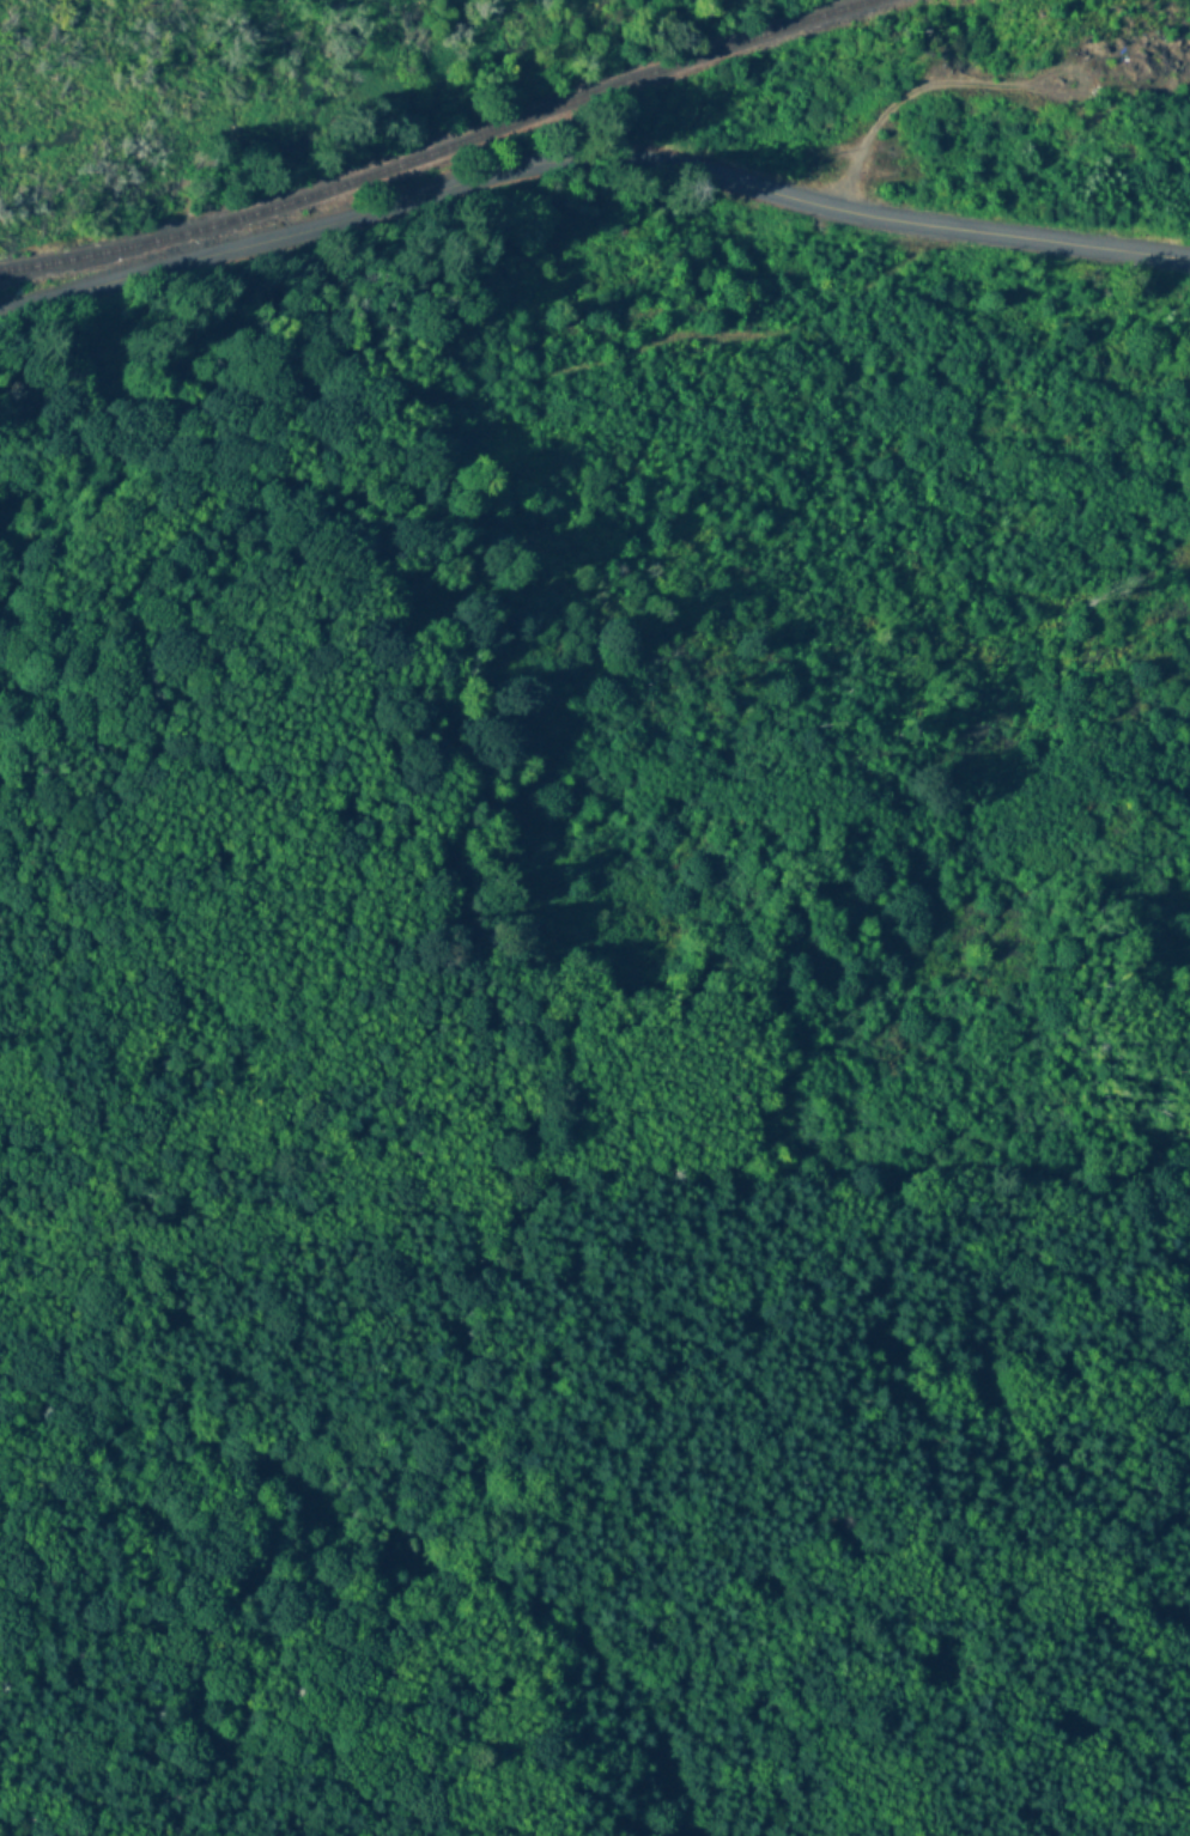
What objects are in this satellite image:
railway: (444, 144)
road: (591, 207)

